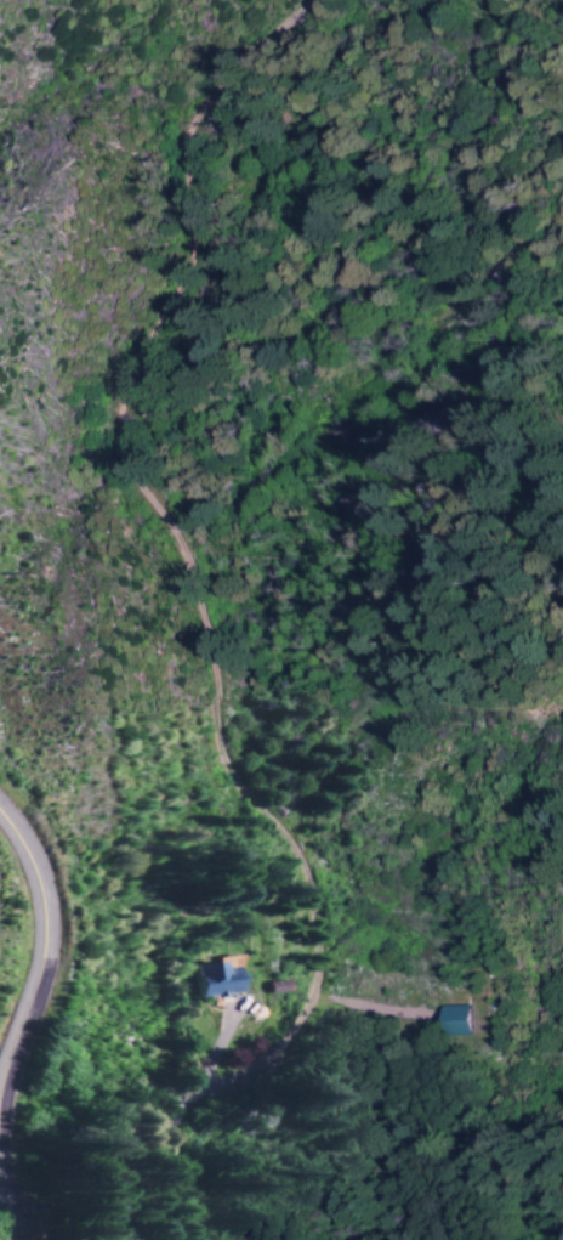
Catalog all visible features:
road: (38, 967)
building: (217, 978)
building: (275, 987)
building: (462, 1019)
road: (1, 1218)

